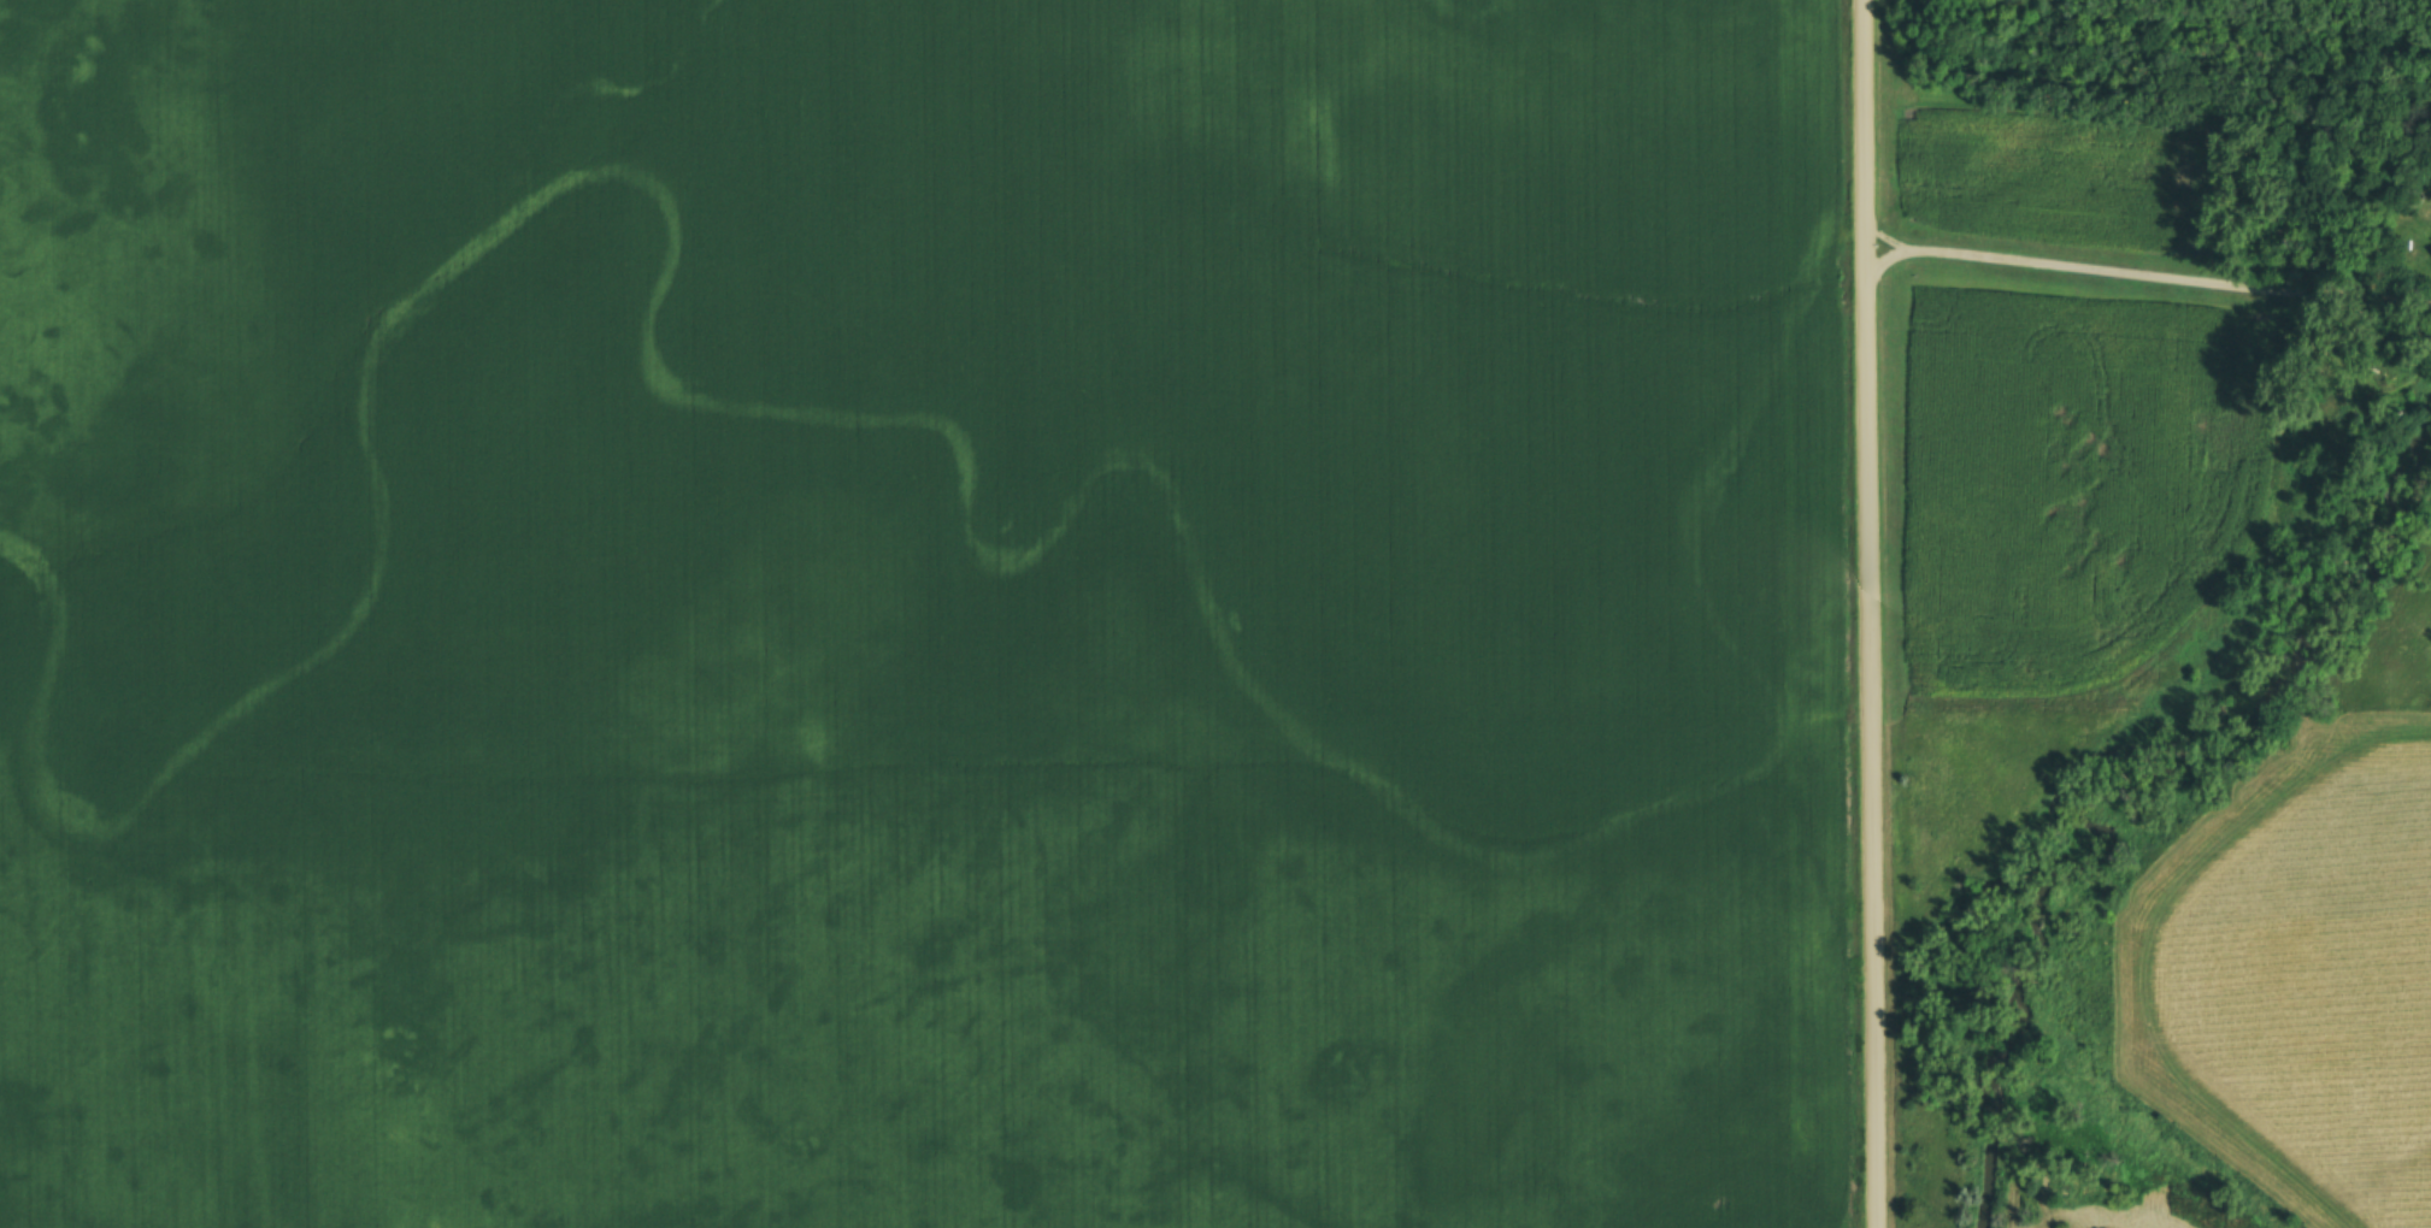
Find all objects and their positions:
road: (1870, 614)
river: (2132, 790)

